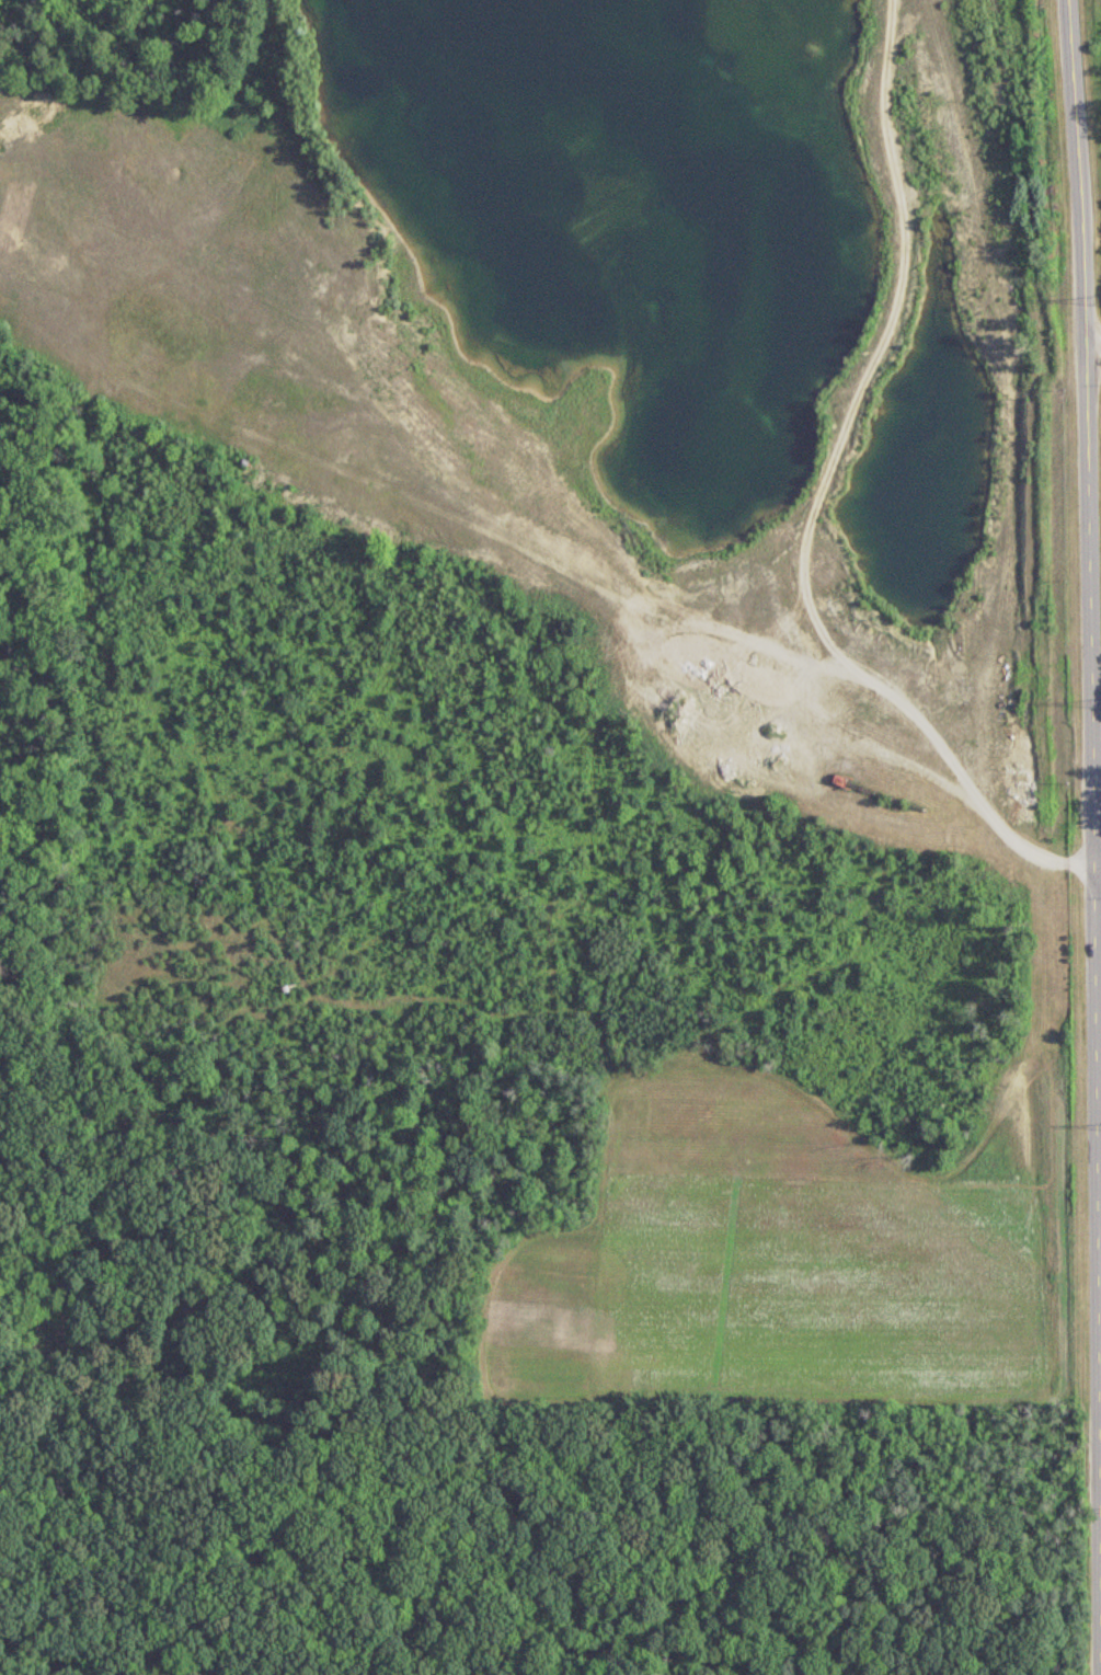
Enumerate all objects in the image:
road: (1093, 790)
road: (1098, 845)
road: (1100, 1415)

